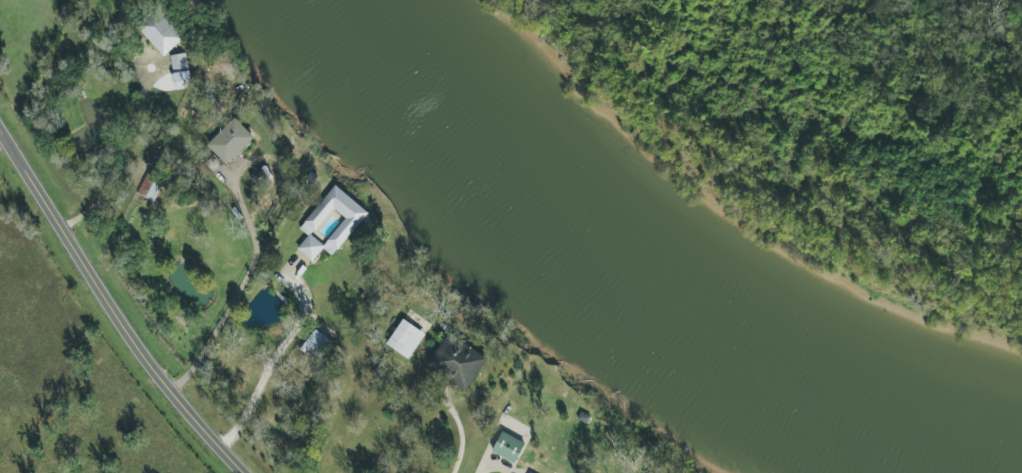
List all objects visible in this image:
building: (161, 34)
building: (180, 70)
building: (231, 140)
building: (150, 186)
building: (331, 223)
road: (250, 228)
river: (654, 282)
road: (112, 309)
building: (405, 338)
building: (315, 344)
building: (458, 363)
building: (509, 446)
road: (492, 464)
building: (531, 472)

